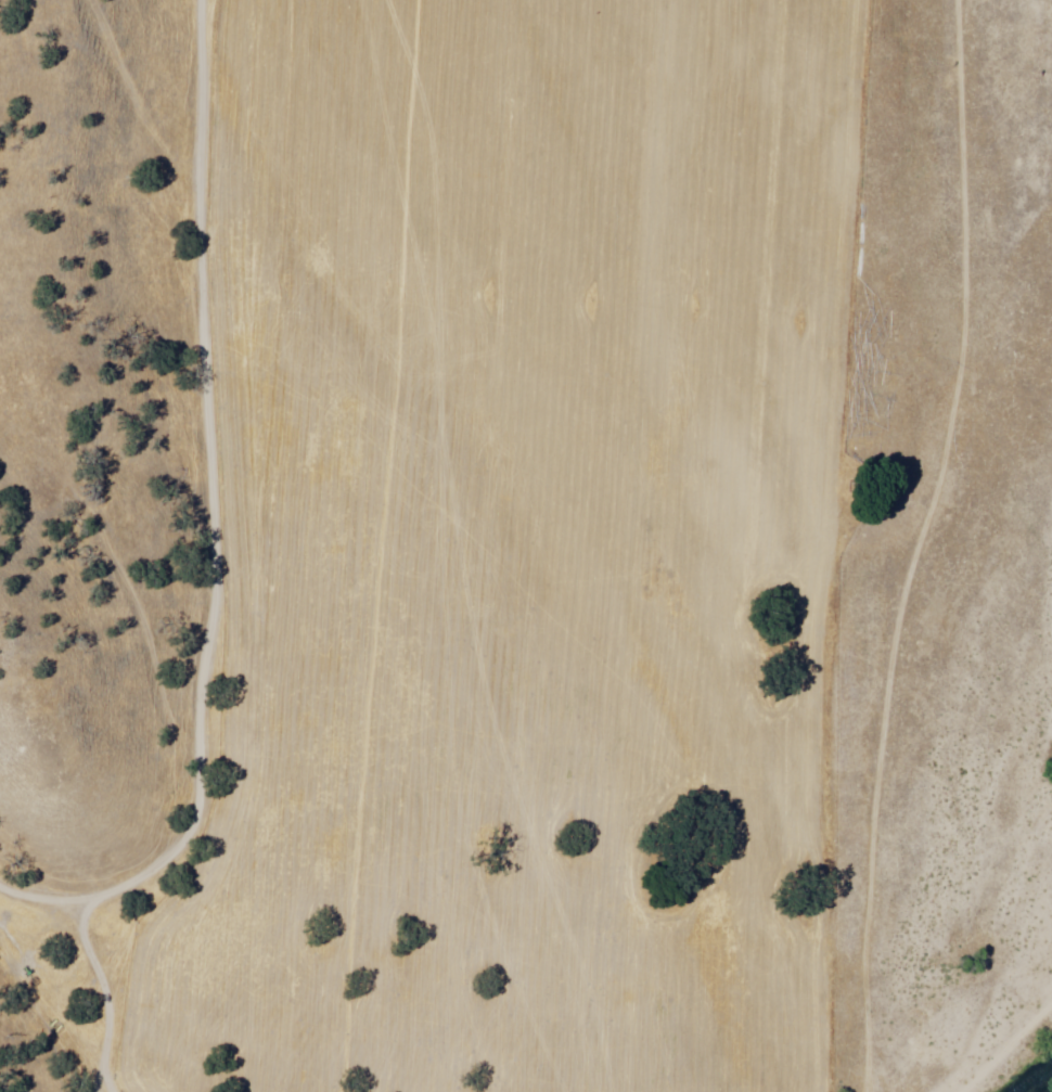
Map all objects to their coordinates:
road: (266, 527)

